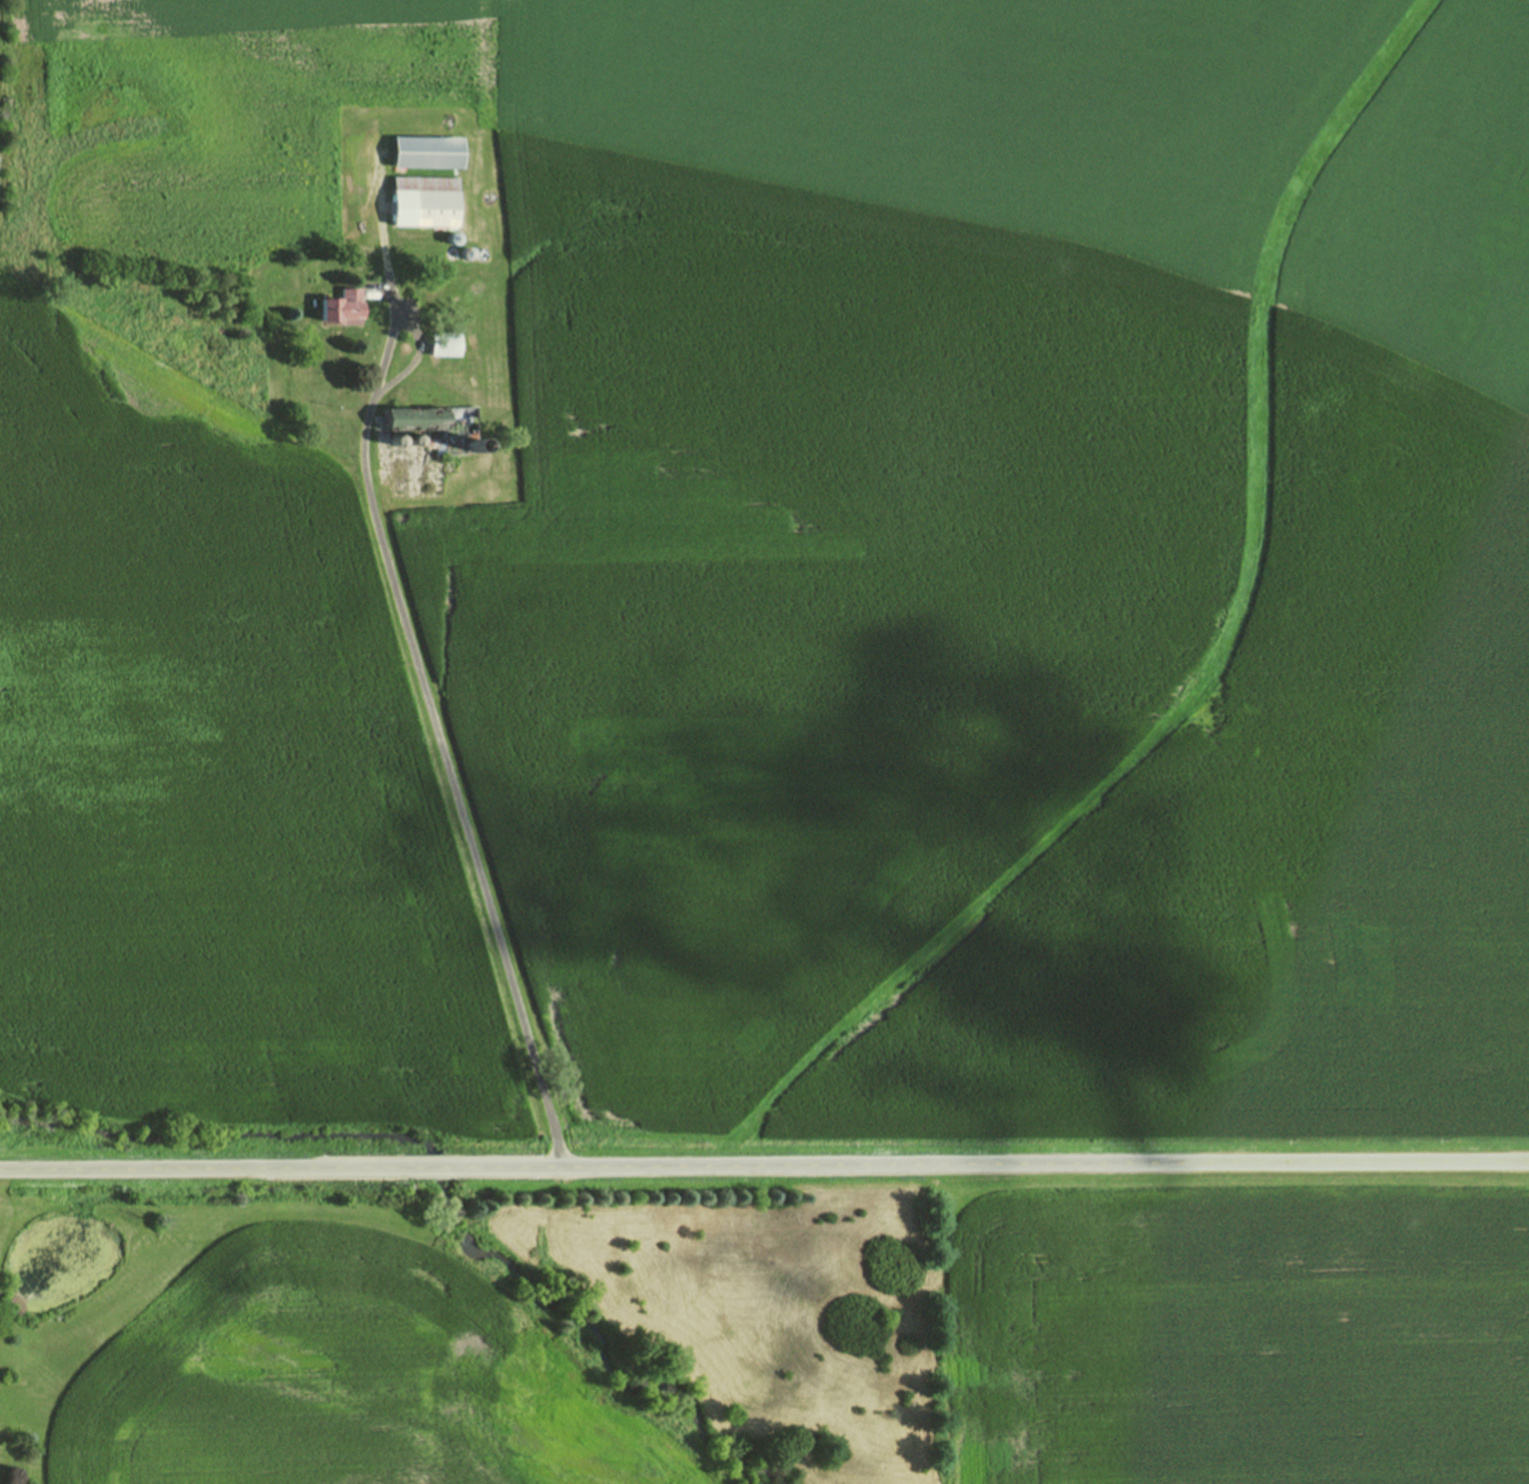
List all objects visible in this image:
building: (428, 150)
building: (425, 200)
building: (343, 307)
building: (445, 343)
building: (437, 424)
road: (500, 847)
road: (989, 1163)
road: (424, 1167)
road: (198, 1169)
building: (71, 1266)

